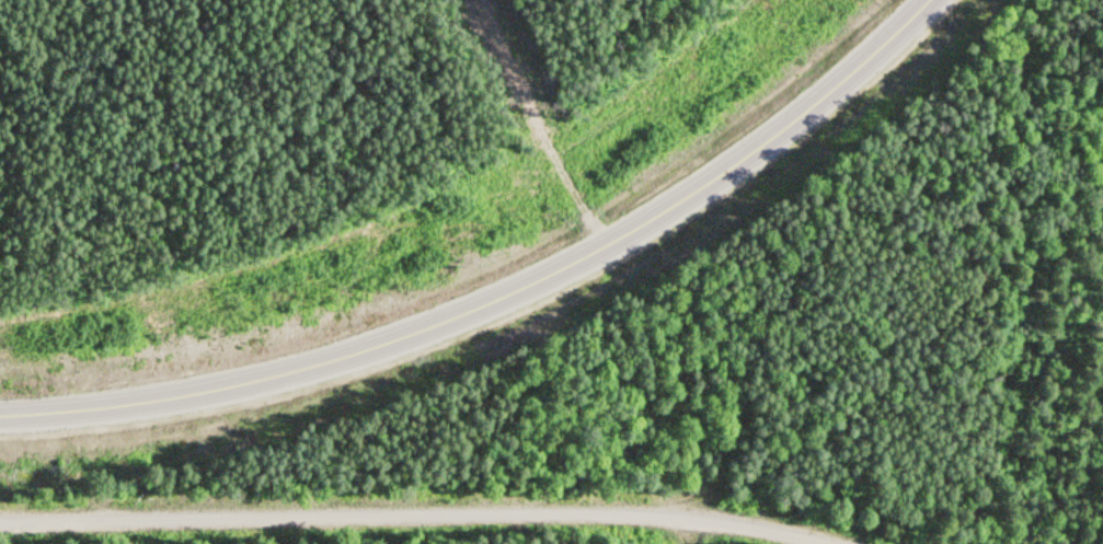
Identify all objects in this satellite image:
road: (496, 287)
road: (426, 506)

